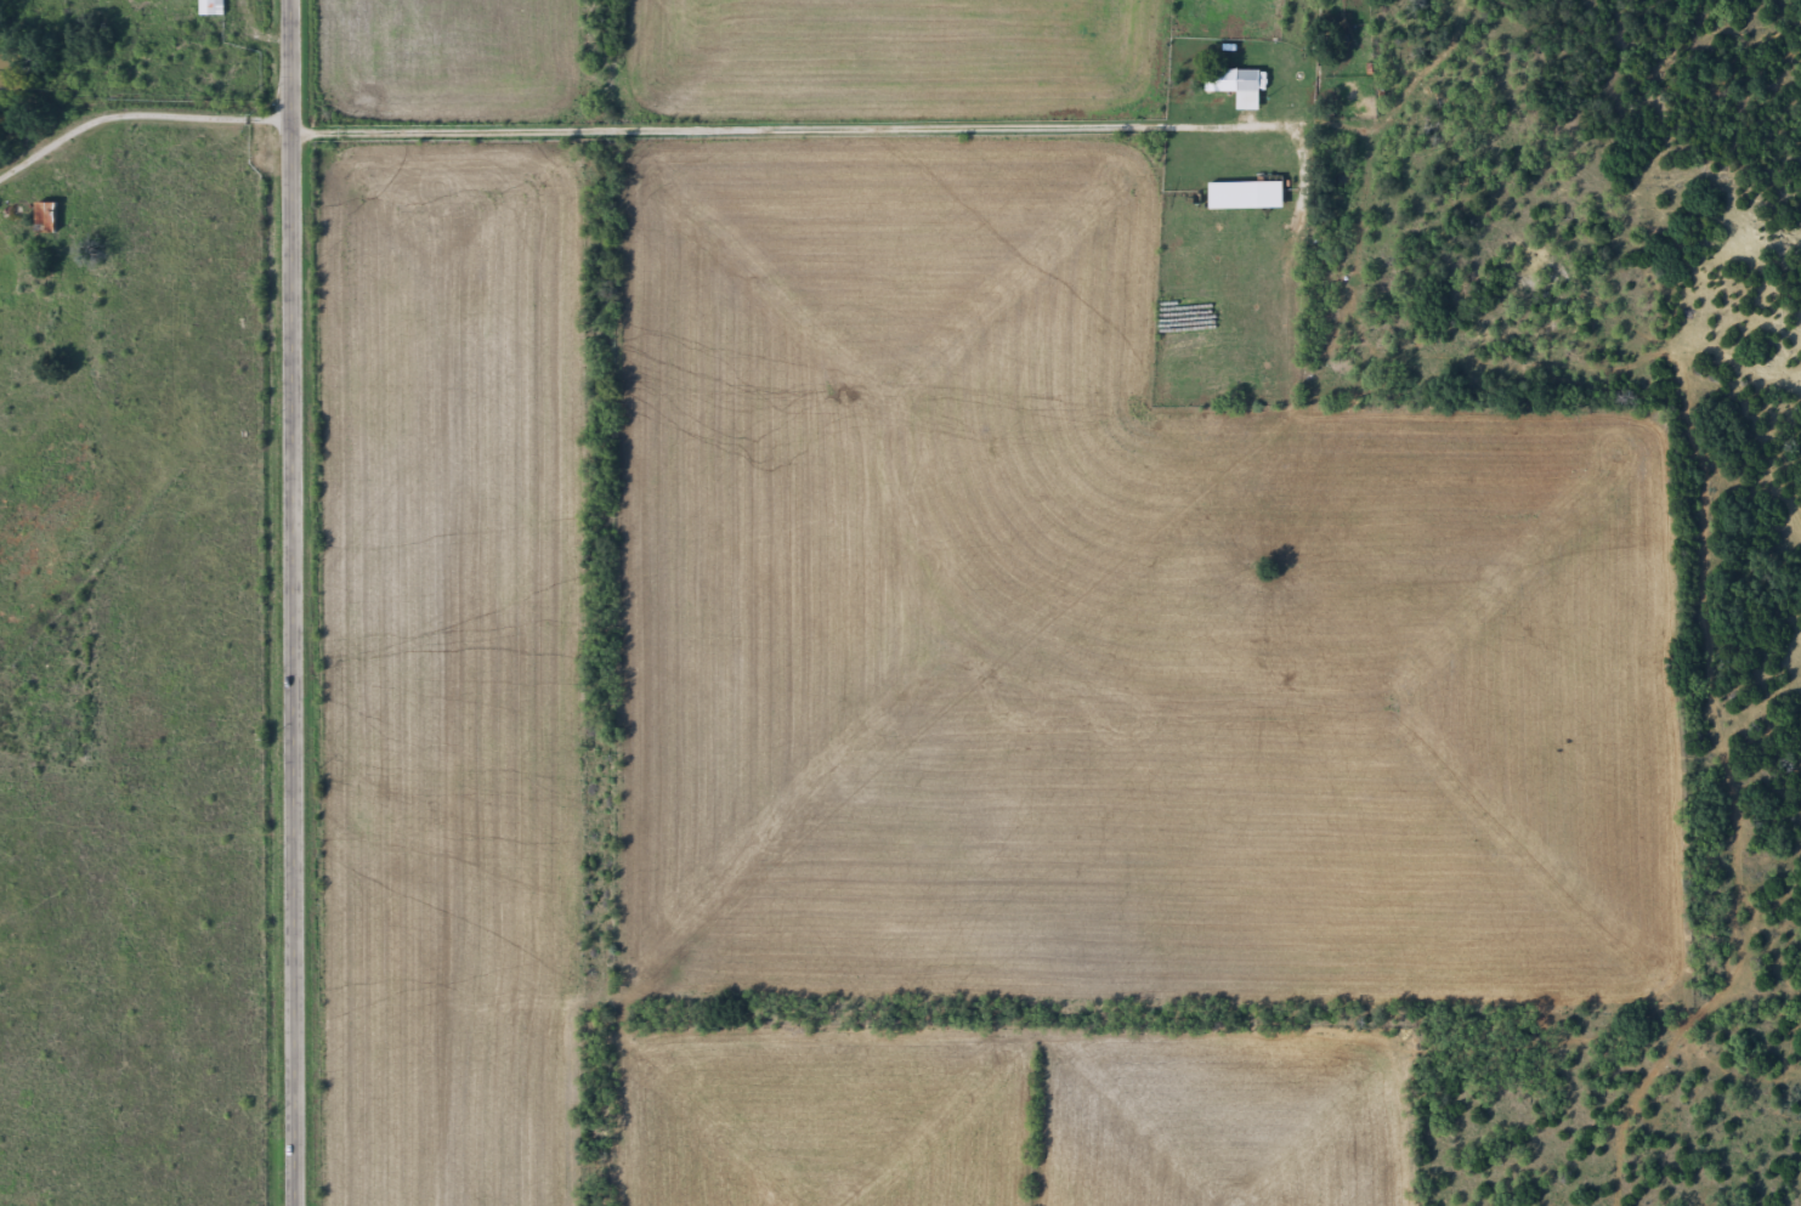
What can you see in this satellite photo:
building: (211, 9)
building: (1235, 89)
building: (1245, 199)
building: (45, 221)
road: (145, 347)
road: (291, 602)

